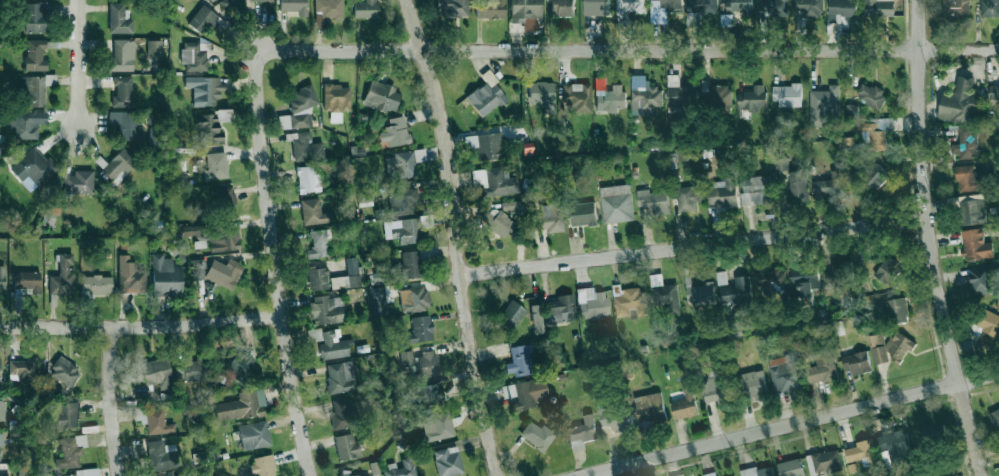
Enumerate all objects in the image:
building: (265, 0)
building: (228, 2)
building: (671, 5)
building: (738, 5)
building: (293, 6)
building: (452, 6)
building: (562, 7)
building: (596, 7)
building: (773, 7)
building: (809, 7)
building: (842, 7)
building: (955, 7)
building: (365, 8)
building: (878, 8)
building: (989, 8)
building: (490, 9)
building: (328, 10)
building: (627, 10)
building: (699, 10)
building: (525, 13)
building: (33, 18)
building: (202, 18)
building: (118, 19)
building: (154, 47)
road: (626, 50)
building: (35, 54)
building: (122, 55)
building: (194, 55)
road: (80, 63)
building: (205, 88)
building: (31, 90)
building: (122, 91)
building: (994, 92)
building: (542, 94)
building: (677, 94)
building: (787, 94)
building: (644, 95)
building: (870, 95)
building: (381, 96)
building: (576, 96)
building: (335, 97)
building: (486, 97)
building: (610, 98)
building: (752, 98)
building: (958, 102)
building: (823, 105)
building: (298, 109)
building: (335, 117)
building: (150, 118)
building: (25, 122)
building: (126, 125)
building: (210, 125)
building: (396, 131)
building: (874, 133)
building: (155, 139)
building: (486, 144)
building: (965, 144)
building: (306, 147)
building: (402, 163)
building: (119, 165)
building: (216, 165)
building: (781, 165)
building: (32, 168)
building: (985, 168)
building: (874, 176)
building: (967, 178)
building: (307, 179)
building: (494, 181)
building: (78, 182)
building: (798, 185)
building: (829, 185)
building: (755, 190)
building: (721, 192)
building: (223, 196)
building: (688, 197)
building: (402, 201)
building: (653, 201)
building: (616, 203)
building: (512, 206)
building: (972, 210)
building: (313, 212)
building: (583, 214)
building: (548, 218)
building: (498, 222)
building: (409, 228)
building: (192, 229)
road: (458, 236)
building: (223, 239)
road: (928, 240)
building: (319, 244)
building: (975, 244)
road: (694, 246)
road: (277, 264)
building: (408, 265)
building: (888, 271)
building: (223, 272)
building: (165, 275)
building: (347, 275)
building: (838, 275)
building: (62, 276)
building: (130, 276)
building: (2, 278)
building: (317, 278)
building: (979, 279)
building: (802, 280)
building: (769, 281)
building: (25, 283)
building: (96, 285)
building: (733, 289)
building: (662, 292)
building: (699, 294)
building: (413, 299)
building: (628, 301)
building: (591, 302)
building: (376, 305)
building: (326, 309)
building: (559, 309)
building: (897, 310)
building: (510, 314)
building: (988, 323)
road: (142, 327)
building: (837, 328)
building: (420, 329)
building: (333, 345)
building: (889, 348)
building: (0, 360)
building: (518, 360)
building: (856, 362)
building: (419, 363)
building: (823, 366)
building: (241, 367)
building: (22, 369)
building: (190, 369)
building: (64, 371)
building: (157, 372)
building: (784, 373)
building: (340, 377)
building: (753, 384)
building: (712, 390)
building: (525, 392)
building: (431, 397)
road: (114, 402)
building: (683, 404)
building: (241, 405)
building: (2, 406)
building: (648, 406)
building: (339, 414)
building: (61, 415)
building: (615, 416)
building: (995, 418)
building: (153, 420)
road: (789, 424)
building: (436, 426)
building: (581, 433)
building: (254, 434)
building: (537, 435)
building: (1, 439)
building: (894, 445)
building: (347, 446)
building: (70, 451)
building: (861, 452)
building: (160, 455)
building: (447, 461)
building: (824, 461)
building: (263, 465)
building: (791, 467)
building: (400, 468)
building: (758, 471)
building: (78, 473)
building: (174, 474)
building: (352, 474)
building: (710, 474)
building: (4, 475)

